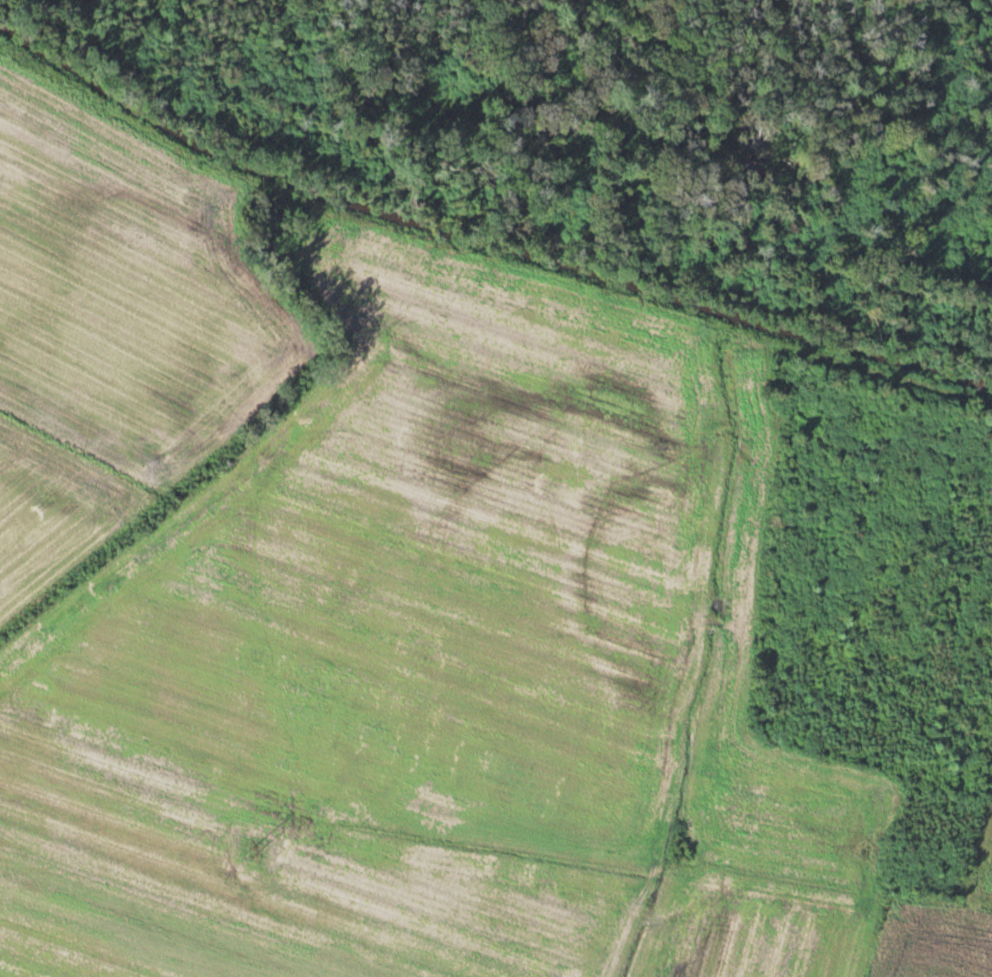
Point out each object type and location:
power tower: (254, 852)

